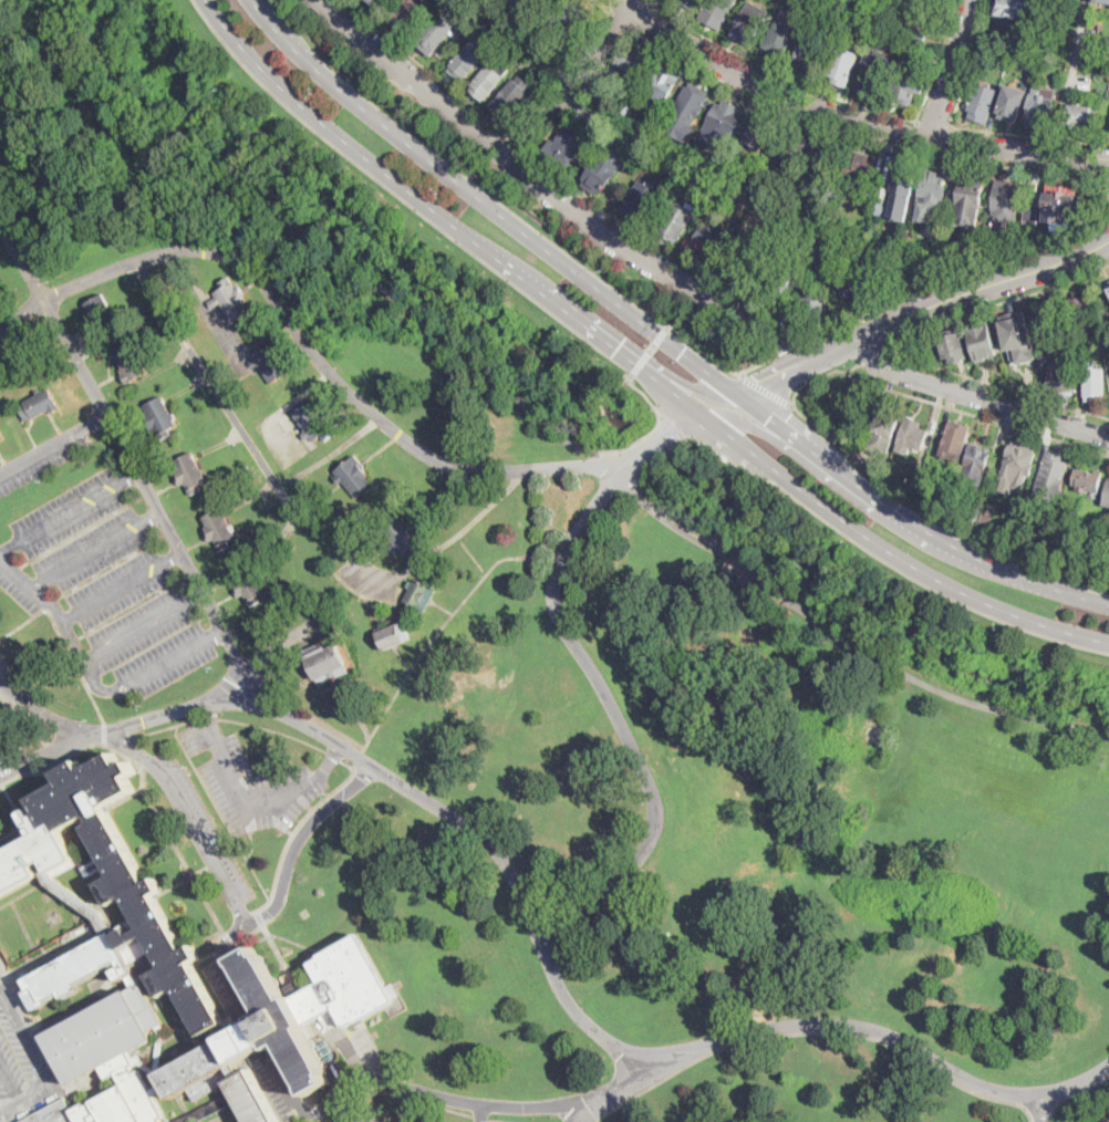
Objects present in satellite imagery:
building: (374, 1)
building: (1101, 1)
road: (647, 3)
road: (655, 3)
building: (687, 4)
building: (529, 6)
road: (602, 8)
road: (618, 8)
building: (1022, 9)
building: (717, 12)
building: (930, 13)
building: (410, 15)
road: (643, 18)
building: (564, 19)
road: (903, 22)
building: (464, 23)
building: (749, 23)
building: (870, 25)
building: (436, 29)
building: (1012, 32)
building: (918, 38)
building: (780, 39)
building: (810, 49)
building: (1096, 52)
building: (1002, 53)
building: (467, 60)
road: (940, 61)
building: (631, 62)
building: (1023, 62)
building: (843, 66)
road: (427, 67)
road: (954, 70)
building: (874, 73)
building: (546, 74)
road: (780, 74)
road: (1070, 77)
building: (489, 79)
road: (572, 79)
building: (663, 84)
building: (908, 86)
building: (511, 96)
building: (983, 103)
building: (692, 104)
building: (1013, 104)
building: (1041, 106)
building: (626, 108)
building: (589, 115)
building: (1084, 116)
building: (629, 118)
building: (725, 118)
road: (851, 118)
road: (934, 124)
road: (963, 127)
building: (758, 135)
road: (912, 136)
road: (859, 138)
road: (945, 141)
road: (519, 145)
building: (568, 146)
building: (789, 150)
building: (823, 160)
road: (699, 168)
building: (861, 169)
building: (600, 174)
building: (692, 179)
building: (902, 188)
building: (931, 193)
building: (725, 194)
building: (883, 194)
road: (416, 196)
building: (968, 199)
building: (1006, 199)
road: (559, 200)
building: (641, 200)
road: (490, 206)
building: (880, 208)
building: (1061, 208)
building: (1032, 216)
building: (676, 220)
road: (318, 238)
building: (703, 243)
building: (899, 243)
building: (828, 245)
building: (1017, 248)
road: (671, 252)
building: (748, 261)
building: (821, 264)
building: (878, 267)
road: (966, 272)
building: (779, 276)
building: (1108, 281)
building: (1108, 288)
building: (851, 289)
road: (968, 290)
building: (231, 300)
building: (818, 304)
building: (101, 310)
building: (1081, 310)
building: (1049, 321)
road: (302, 334)
road: (661, 334)
building: (1018, 335)
building: (981, 341)
building: (953, 343)
road: (799, 345)
road: (652, 347)
road: (888, 349)
traffic signals: (616, 350)
traffic signals: (683, 353)
building: (1043, 356)
road: (872, 357)
road: (719, 361)
building: (270, 362)
road: (641, 362)
building: (131, 363)
road: (853, 370)
road: (787, 373)
building: (1061, 378)
building: (1095, 384)
road: (692, 389)
road: (766, 389)
road: (970, 395)
road: (915, 397)
building: (40, 404)
building: (160, 417)
building: (313, 423)
road: (661, 423)
road: (675, 426)
building: (883, 433)
building: (913, 435)
building: (1, 437)
road: (686, 437)
road: (775, 438)
building: (954, 440)
road: (53, 443)
road: (129, 455)
parking lot: (41, 457)
road: (632, 461)
building: (1018, 461)
building: (976, 465)
building: (190, 472)
building: (1053, 474)
building: (354, 476)
road: (127, 477)
building: (1087, 480)
building: (1107, 496)
road: (293, 510)
road: (66, 512)
road: (149, 515)
building: (976, 515)
building: (987, 517)
road: (912, 522)
building: (220, 528)
road: (690, 530)
road: (862, 533)
building: (402, 534)
road: (8, 546)
road: (92, 549)
road: (172, 558)
parking lot: (750, 573)
road: (23, 580)
road: (37, 582)
building: (249, 584)
parking lot: (102, 588)
road: (118, 588)
building: (419, 594)
road: (68, 615)
road: (149, 622)
road: (215, 632)
building: (394, 635)
road: (79, 655)
road: (89, 656)
road: (164, 661)
building: (325, 662)
road: (594, 673)
road: (931, 685)
road: (13, 692)
park: (463, 692)
road: (201, 709)
road: (62, 719)
building: (875, 733)
road: (49, 751)
parking lot: (11, 754)
road: (330, 758)
parking lot: (247, 779)
road: (239, 797)
road: (437, 806)
road: (185, 817)
parking lot: (198, 827)
road: (282, 880)
building: (159, 967)
road: (813, 1031)
road: (899, 1037)
parking lot: (15, 1039)
parking lot: (367, 1048)
road: (38, 1056)
parking lot: (9, 1071)
road: (10, 1081)
road: (350, 1097)
road: (414, 1098)
road: (493, 1105)
road: (1044, 1107)
parking lot: (361, 1112)
parking lot: (419, 1113)
road: (480, 1113)
road: (583, 1113)
road: (417, 1114)
building: (167, 1121)

